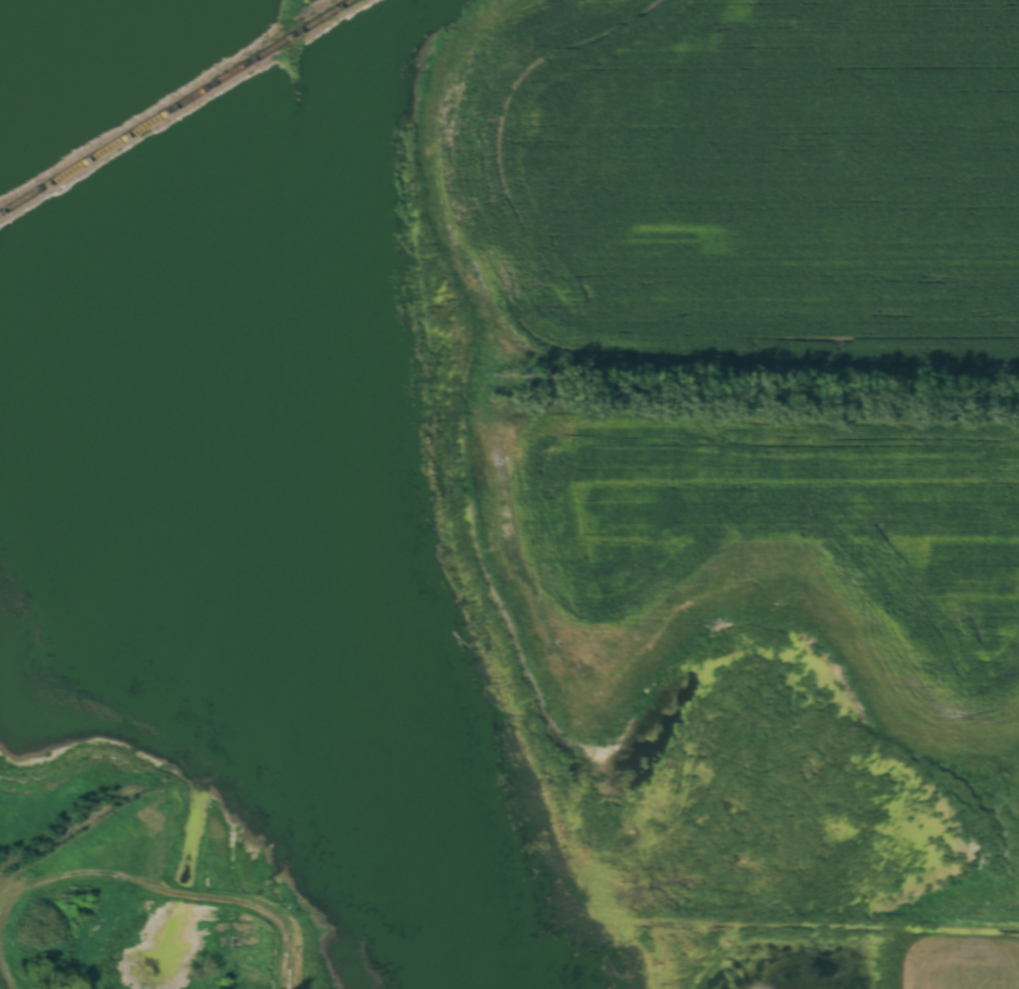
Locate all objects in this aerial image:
railway: (180, 109)
road: (290, 960)

